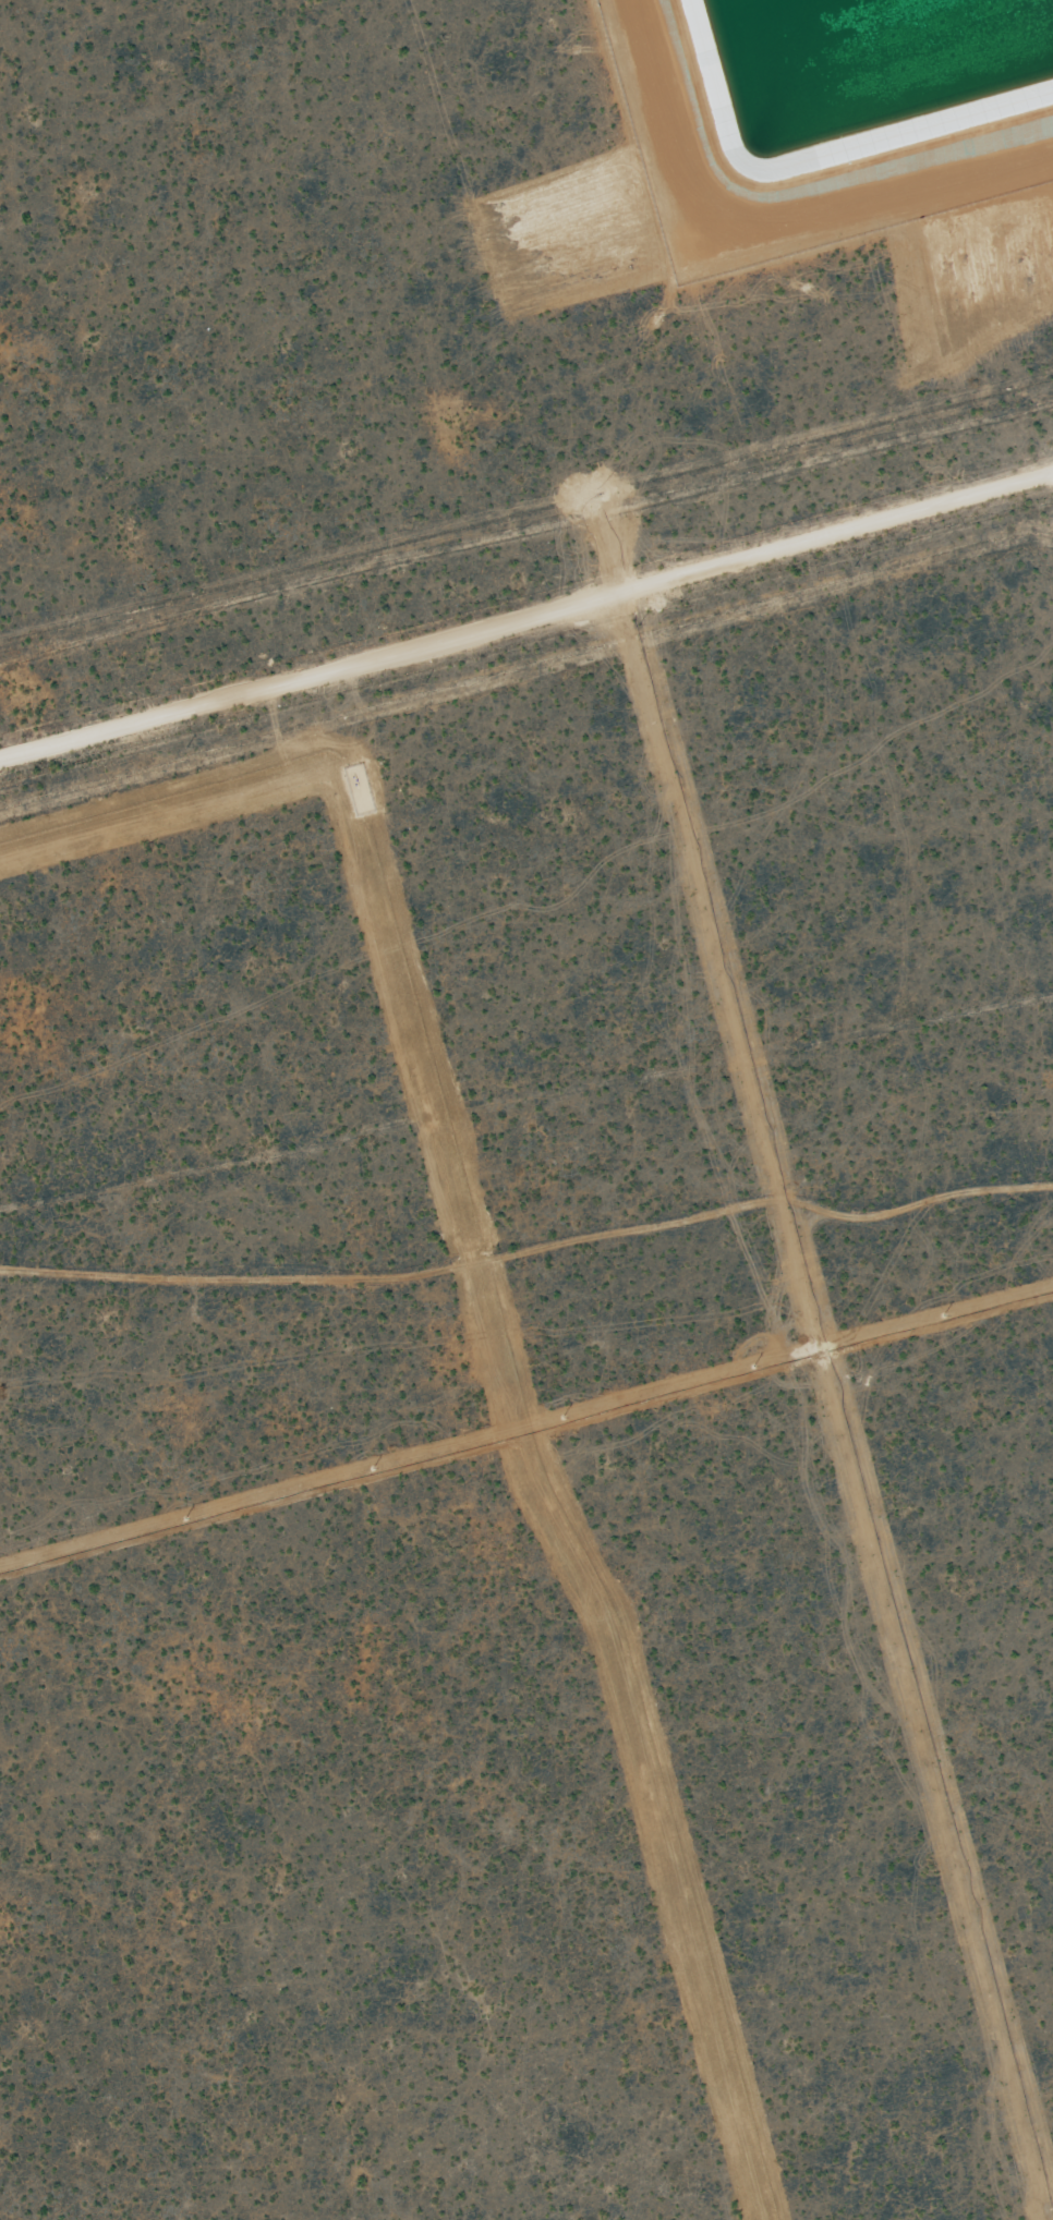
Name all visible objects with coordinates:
road: (526, 1466)

